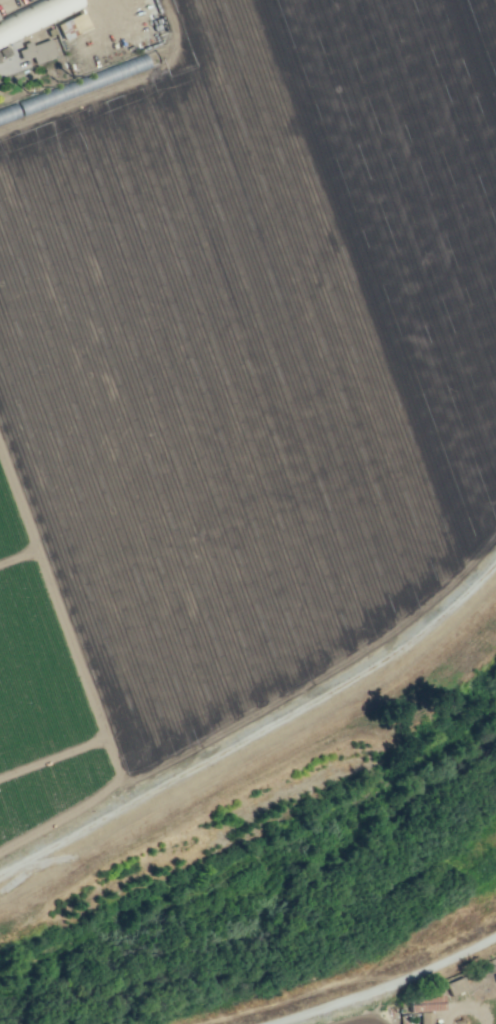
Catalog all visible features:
building: (35, 16)
building: (71, 25)
building: (37, 50)
building: (110, 73)
crop: (229, 427)
river: (276, 909)
building: (455, 985)
crop: (443, 1002)
building: (425, 1003)
building: (425, 1017)

